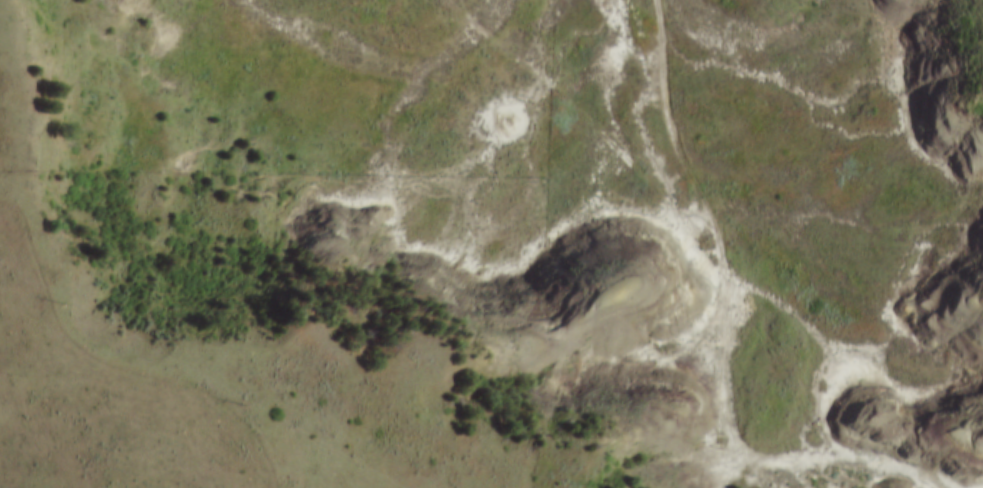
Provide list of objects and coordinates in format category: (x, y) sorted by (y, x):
road: (726, 315)

